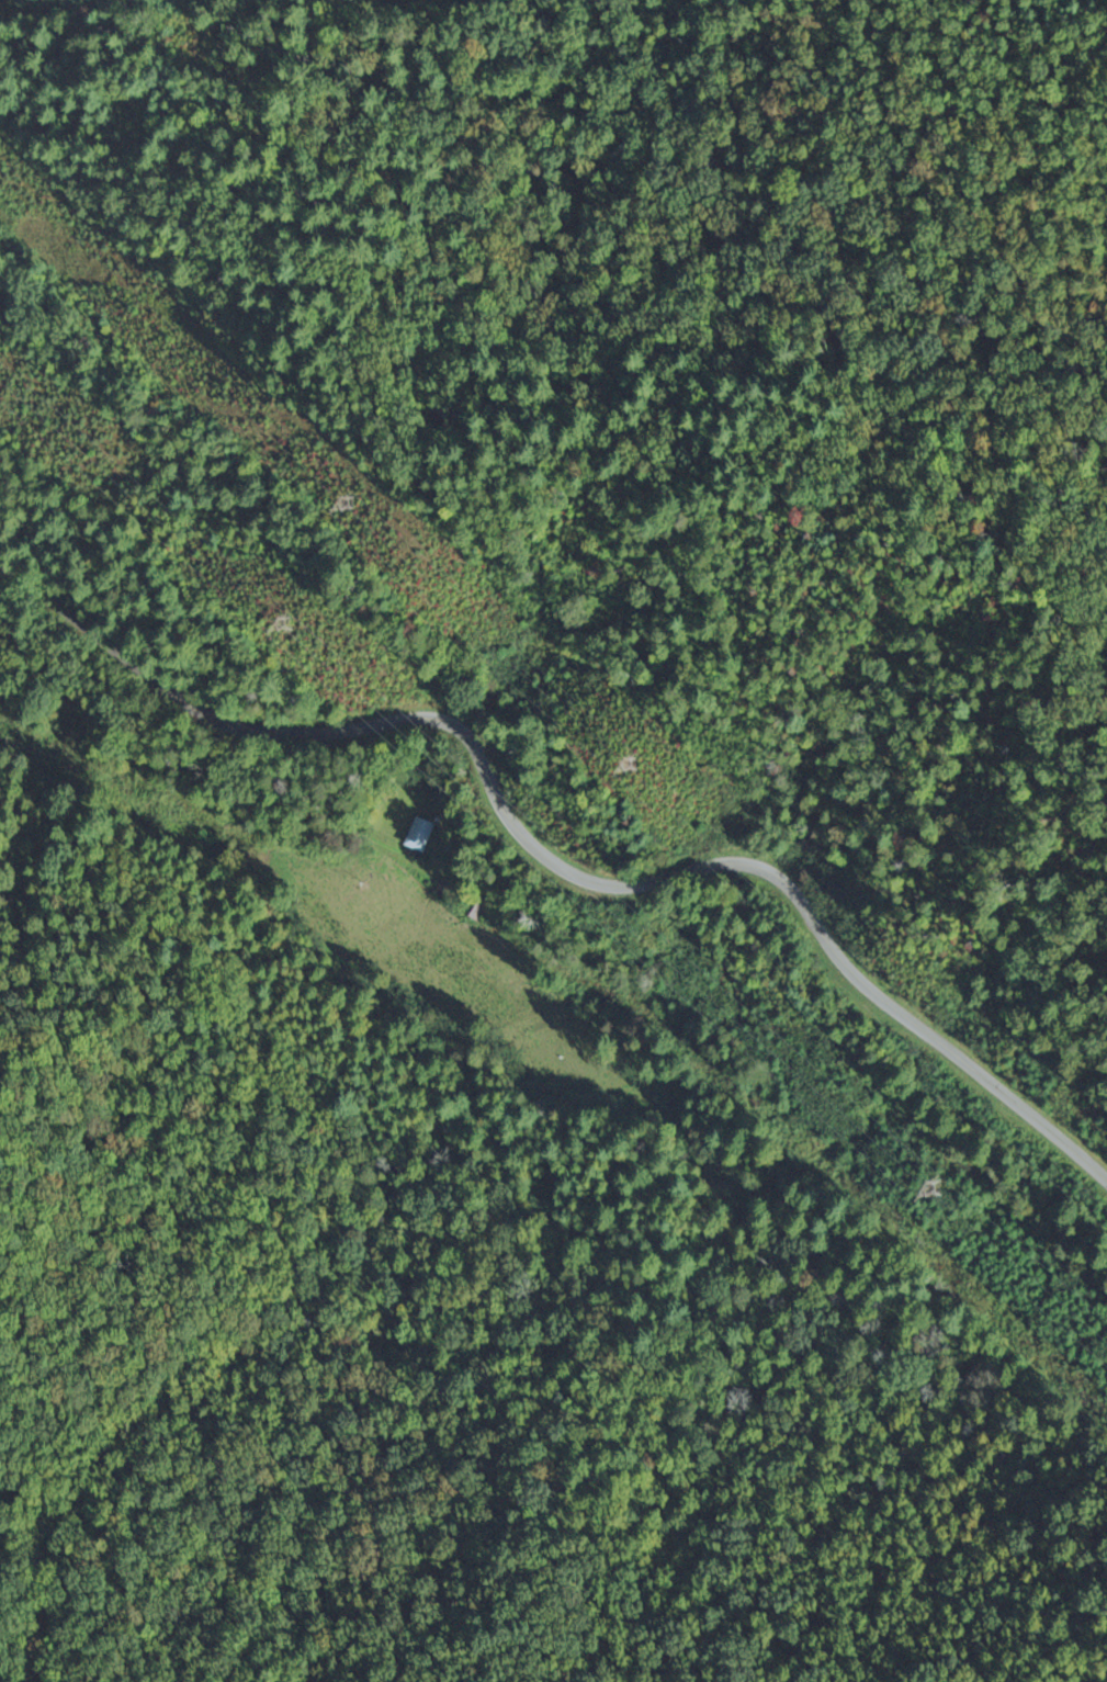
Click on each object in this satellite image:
power tower: (339, 504)
power tower: (269, 622)
power tower: (623, 764)
building: (419, 834)
road: (555, 866)
power tower: (929, 1188)

